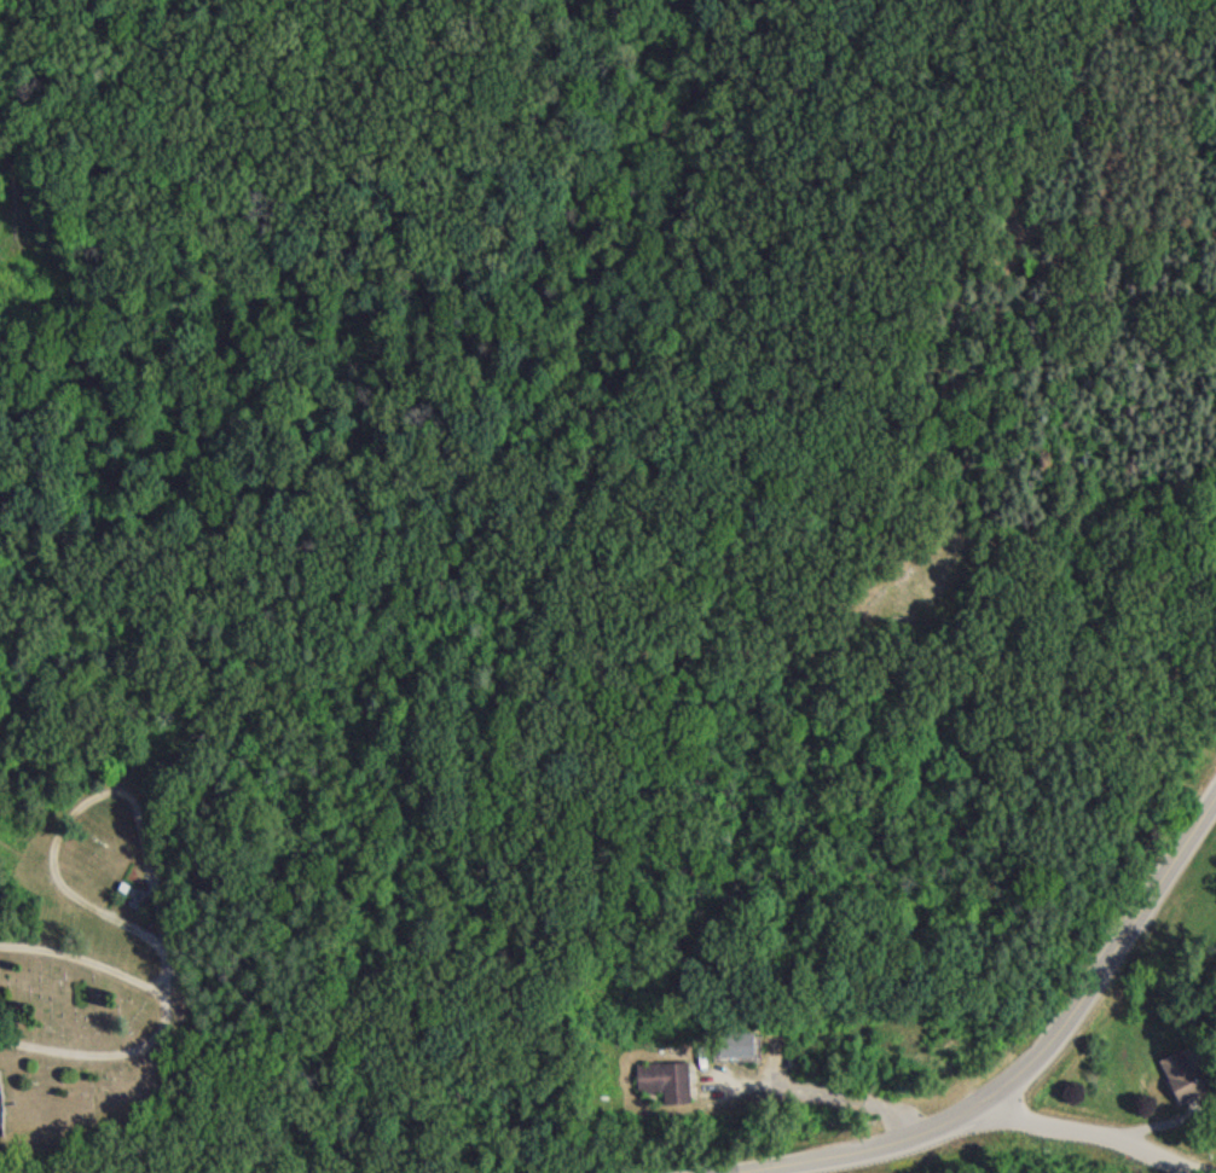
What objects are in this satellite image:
road: (75, 806)
road: (156, 948)
road: (83, 960)
road: (1108, 964)
park: (110, 975)
building: (733, 1050)
road: (118, 1053)
building: (1177, 1081)
building: (661, 1087)
road: (816, 1096)
road: (1093, 1136)
road: (840, 1145)

